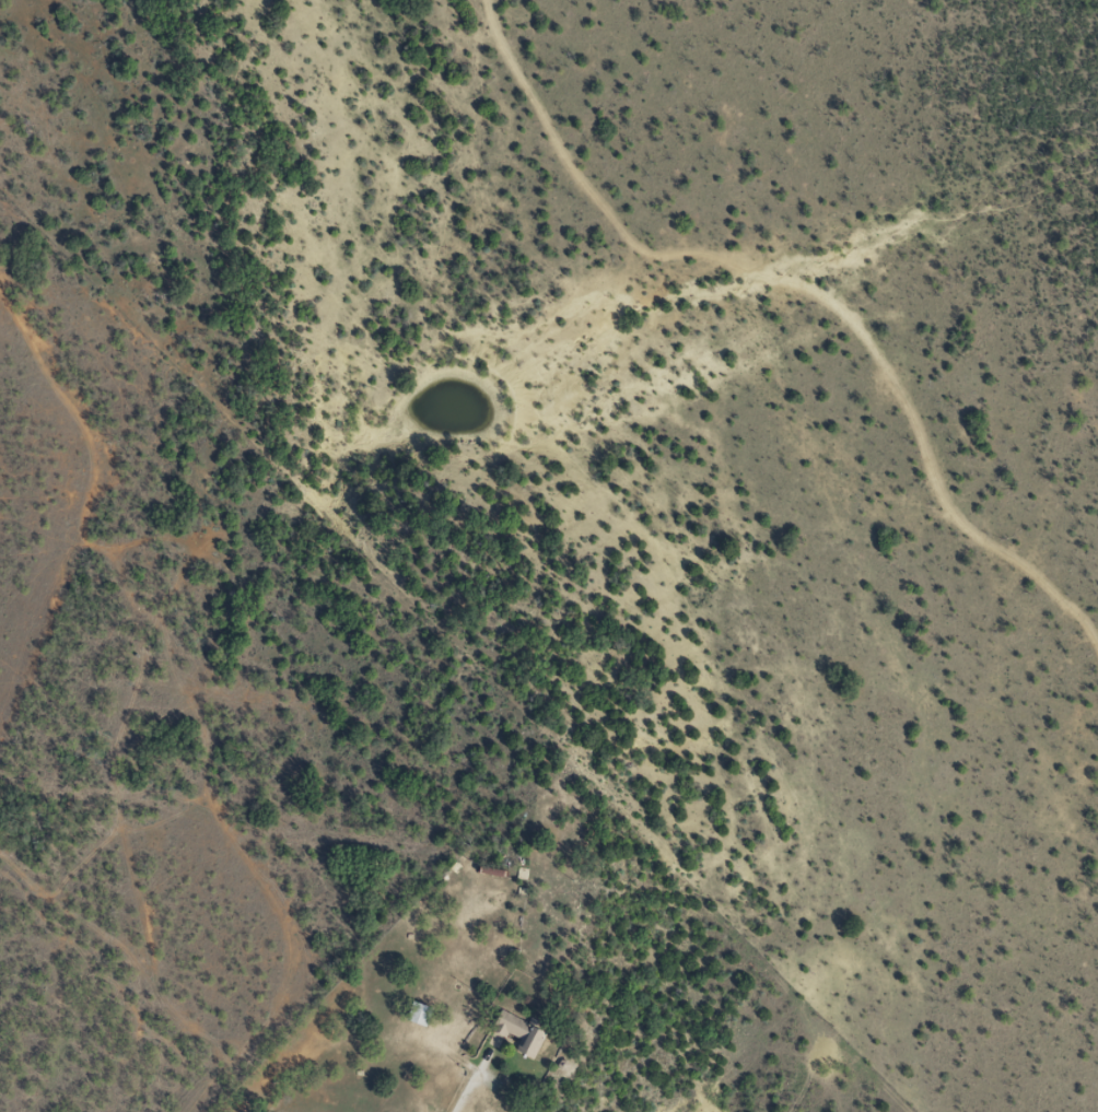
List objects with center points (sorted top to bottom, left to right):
building: (416, 1012)
building: (515, 1033)

